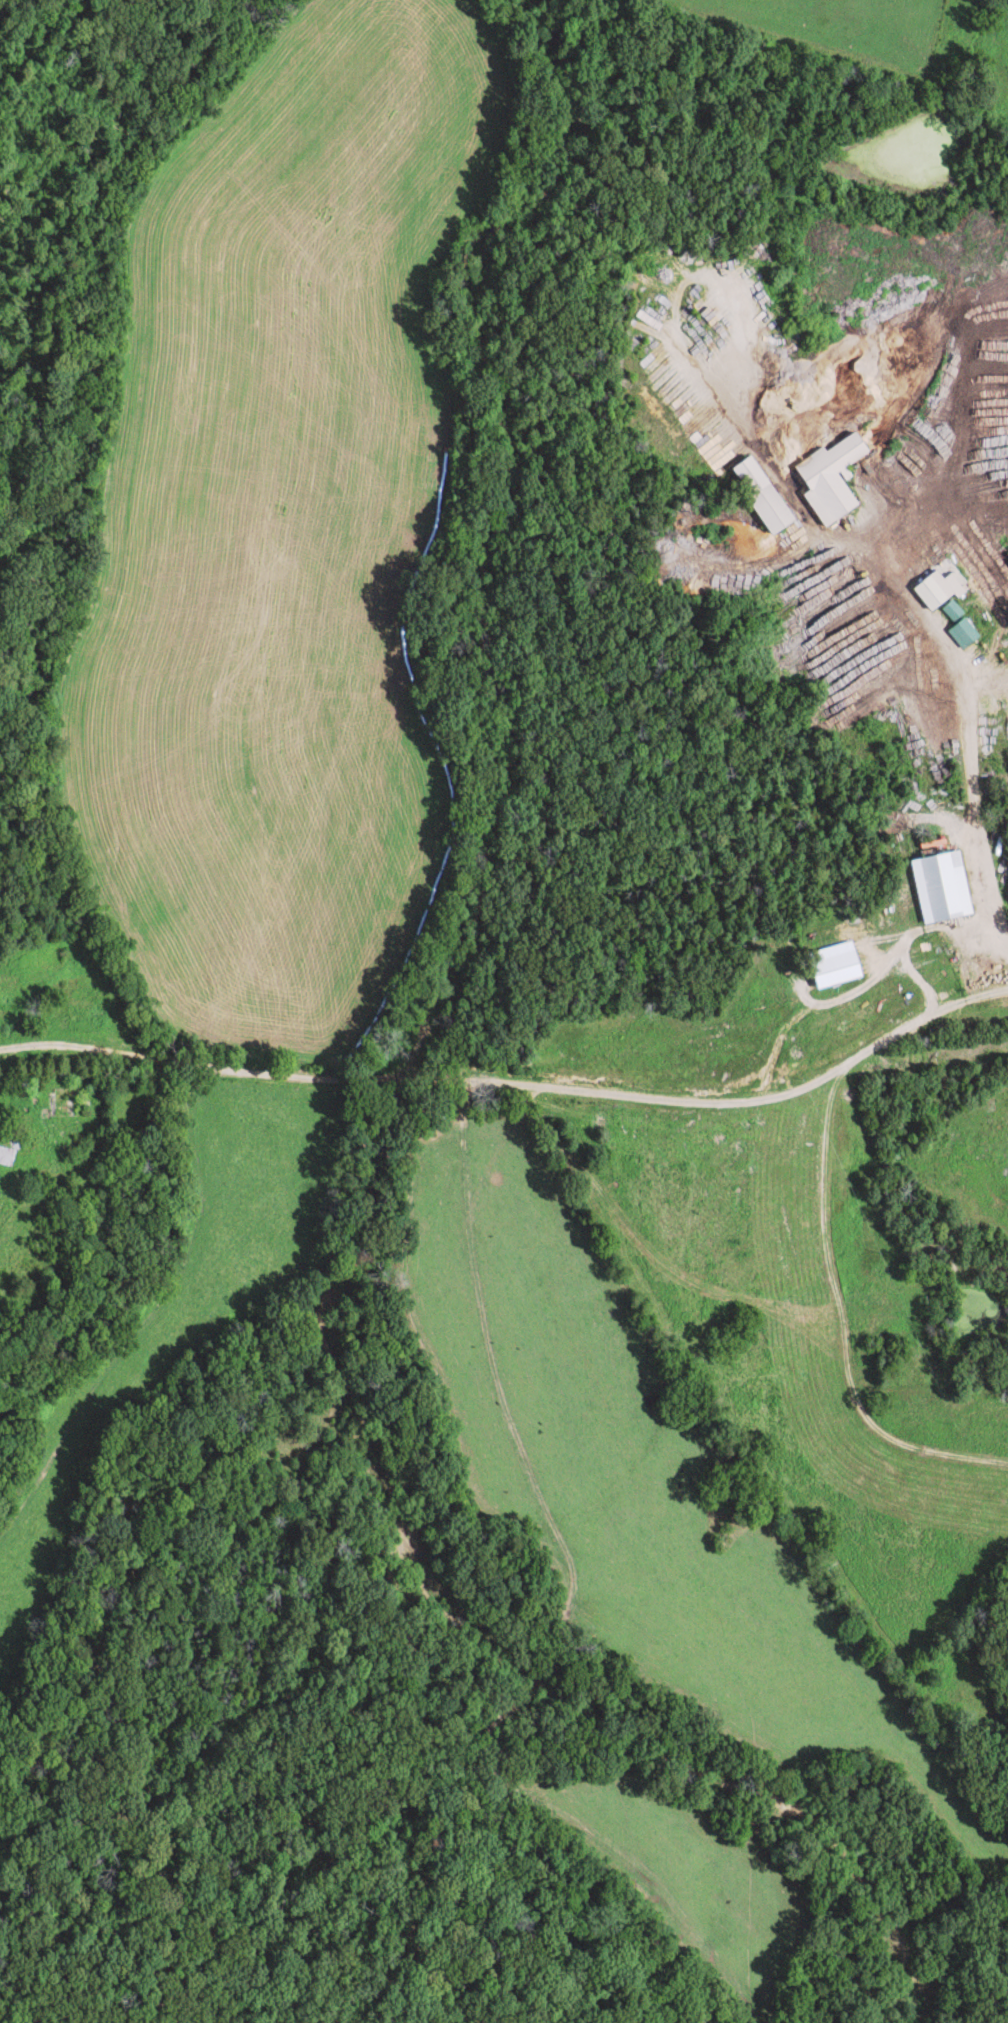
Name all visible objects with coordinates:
building: (840, 478)
building: (771, 494)
building: (946, 588)
building: (960, 609)
building: (971, 632)
road: (976, 807)
building: (950, 886)
building: (843, 963)
road: (725, 1106)
building: (10, 1154)

